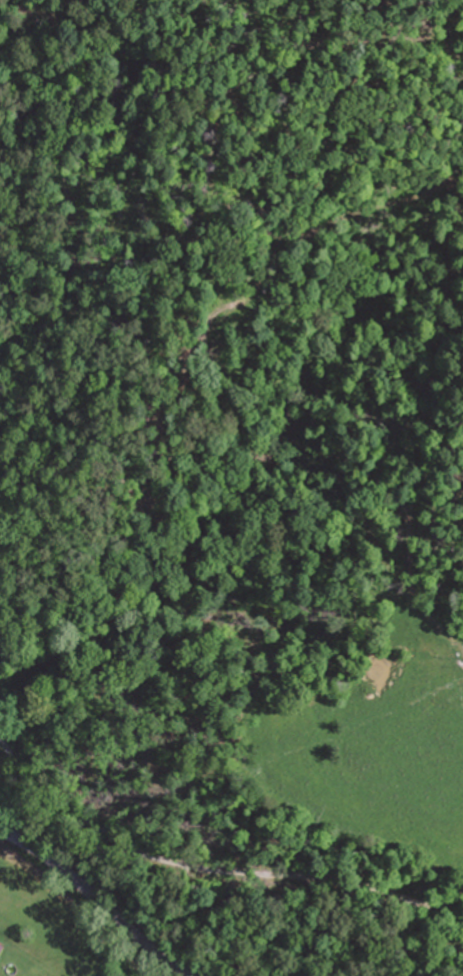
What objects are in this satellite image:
road: (97, 901)
building: (1, 948)

